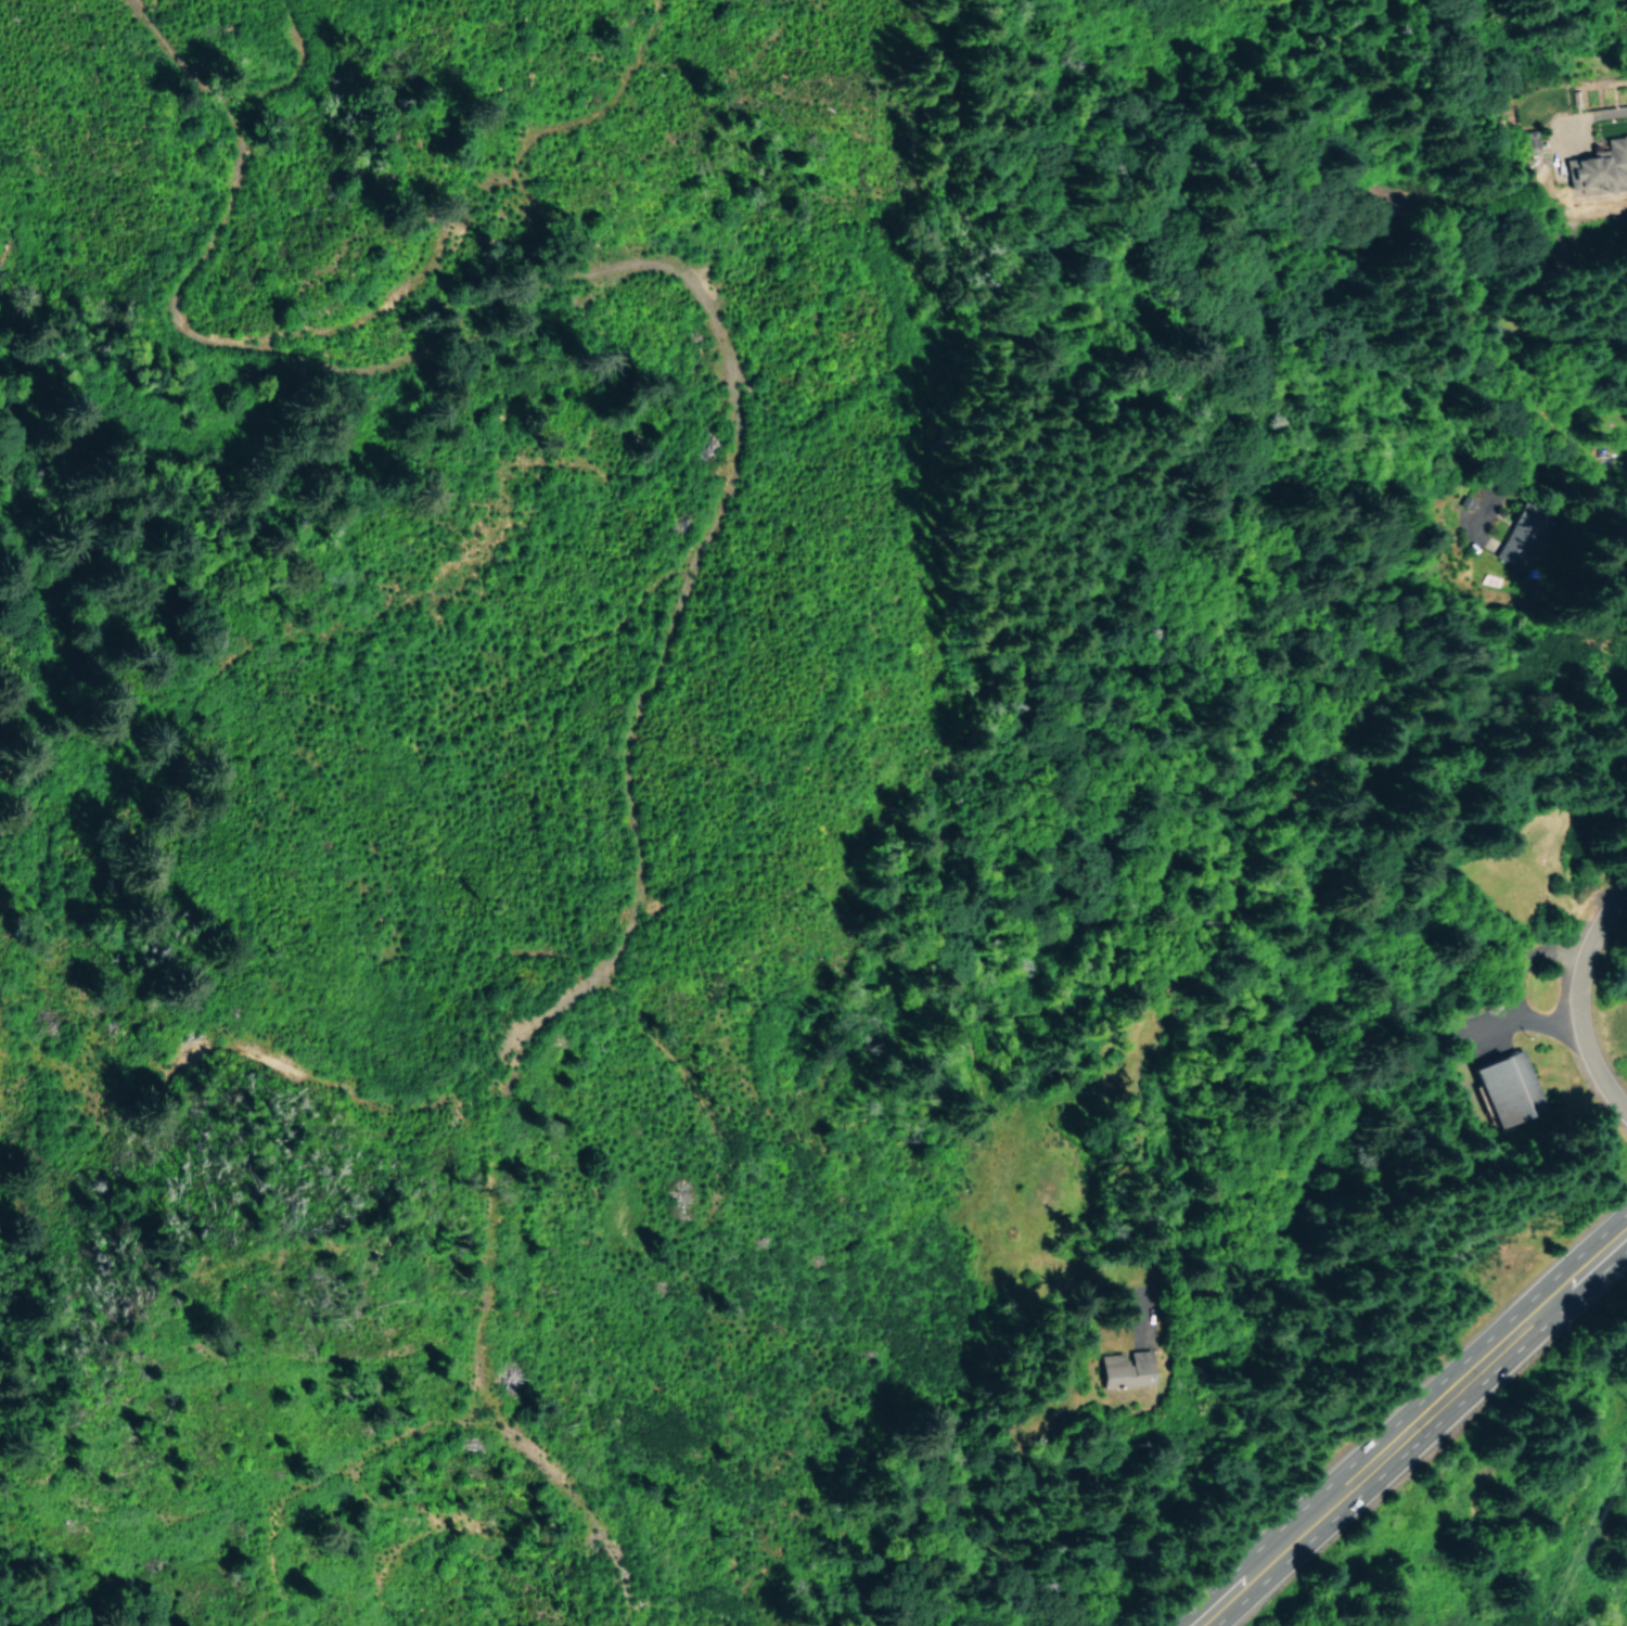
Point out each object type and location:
building: (1527, 141)
building: (1597, 165)
road: (1585, 1006)
building: (1503, 1090)
building: (1124, 1368)
road: (1414, 1427)

